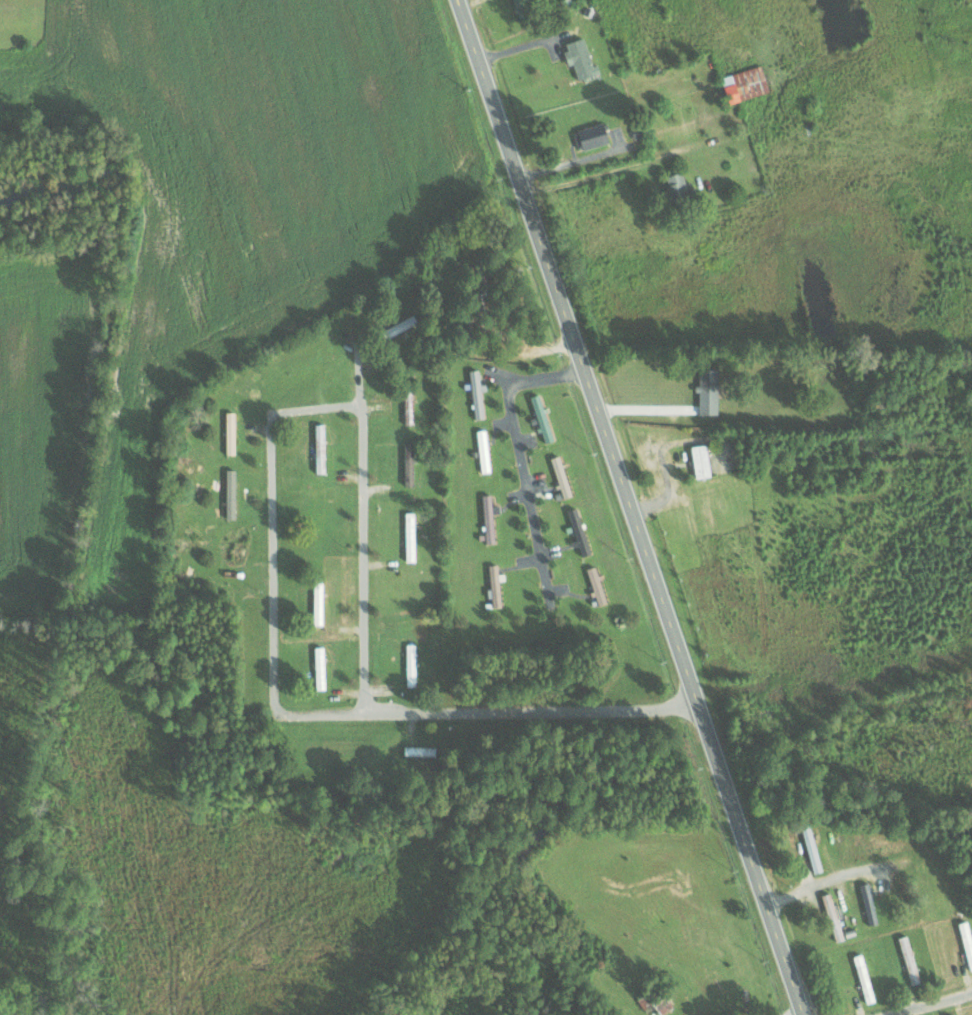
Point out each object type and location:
building: (523, 7)
building: (580, 58)
building: (744, 84)
building: (592, 136)
building: (676, 185)
building: (708, 390)
building: (476, 392)
building: (408, 406)
building: (542, 417)
building: (700, 460)
road: (522, 461)
building: (408, 463)
building: (560, 475)
road: (631, 506)
building: (574, 515)
building: (489, 517)
road: (360, 519)
building: (495, 585)
building: (596, 585)
road: (296, 716)
building: (419, 750)
building: (811, 847)
road: (828, 879)
building: (968, 950)
building: (867, 988)
building: (657, 1004)
road: (931, 1004)

